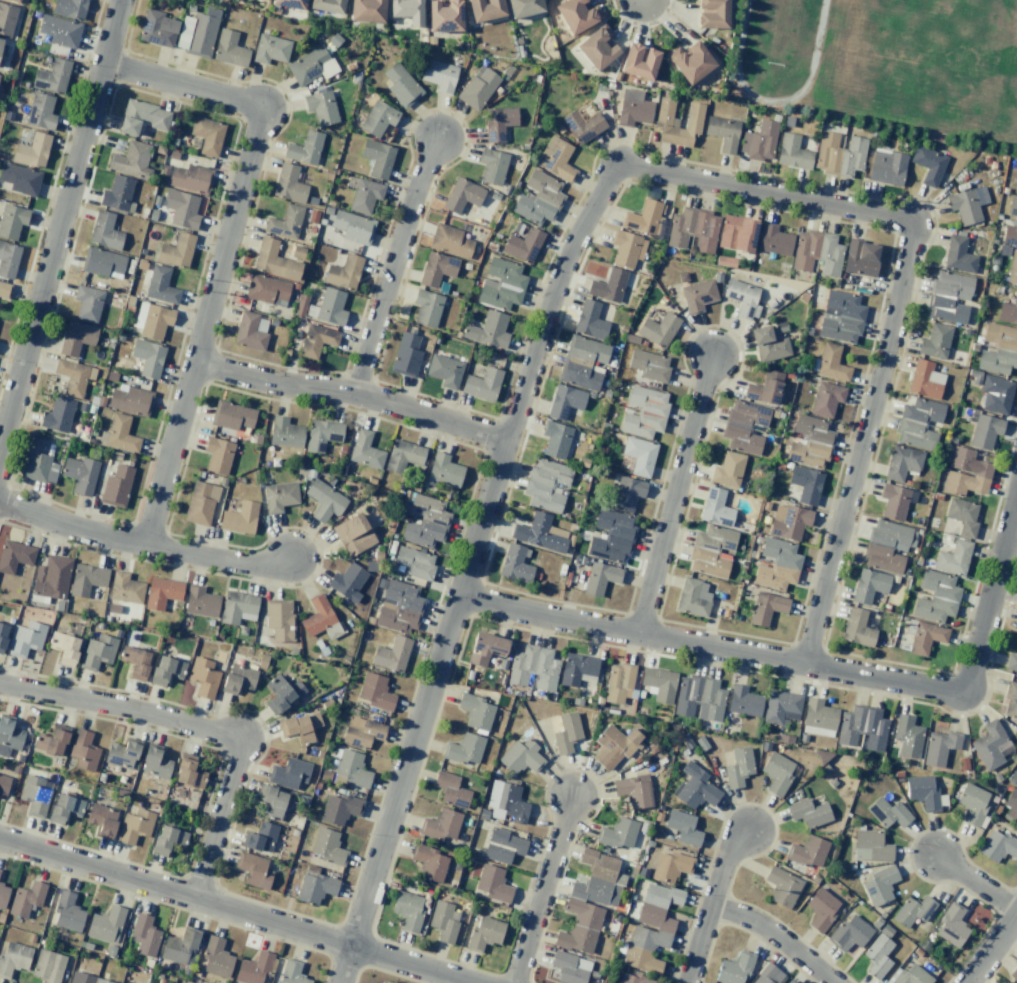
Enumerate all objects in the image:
building: (16, 0)
building: (289, 3)
building: (327, 5)
building: (523, 7)
building: (69, 8)
building: (485, 9)
building: (366, 10)
building: (407, 10)
building: (711, 13)
building: (575, 15)
building: (444, 16)
building: (7, 19)
building: (157, 29)
building: (59, 30)
building: (195, 34)
building: (229, 49)
building: (270, 49)
building: (596, 49)
building: (1, 51)
building: (638, 61)
building: (690, 61)
building: (311, 65)
building: (439, 75)
building: (52, 76)
building: (401, 85)
building: (477, 87)
building: (321, 107)
building: (633, 108)
building: (40, 111)
building: (142, 117)
building: (378, 118)
building: (498, 122)
building: (665, 122)
building: (582, 125)
building: (722, 133)
building: (207, 135)
building: (759, 141)
building: (305, 148)
building: (31, 151)
building: (792, 152)
building: (838, 154)
building: (377, 158)
building: (555, 159)
building: (131, 160)
building: (928, 164)
building: (492, 166)
building: (886, 167)
building: (190, 178)
building: (20, 179)
building: (288, 183)
building: (1016, 191)
building: (117, 193)
building: (461, 195)
building: (364, 196)
building: (538, 198)
building: (967, 204)
building: (1012, 207)
building: (181, 209)
building: (643, 217)
building: (12, 221)
building: (284, 222)
road: (59, 223)
building: (692, 229)
building: (104, 231)
building: (736, 233)
building: (1009, 236)
building: (449, 240)
building: (773, 240)
building: (523, 245)
road: (227, 246)
building: (626, 249)
building: (176, 250)
building: (816, 252)
building: (958, 255)
building: (860, 258)
building: (8, 259)
building: (273, 260)
building: (102, 263)
road: (395, 267)
building: (436, 268)
building: (1012, 268)
building: (343, 272)
building: (501, 284)
building: (160, 285)
building: (607, 286)
building: (267, 289)
building: (4, 290)
building: (697, 295)
building: (949, 297)
building: (742, 298)
building: (87, 303)
road: (898, 304)
building: (331, 307)
building: (426, 308)
building: (1008, 311)
building: (840, 316)
building: (153, 320)
building: (589, 320)
building: (658, 329)
building: (488, 330)
building: (250, 331)
building: (76, 338)
building: (317, 340)
building: (935, 341)
building: (768, 344)
building: (586, 349)
building: (998, 349)
building: (406, 355)
building: (147, 357)
building: (831, 363)
building: (649, 365)
building: (444, 370)
building: (579, 374)
building: (73, 376)
building: (924, 380)
building: (482, 384)
building: (764, 388)
road: (353, 394)
building: (995, 394)
building: (826, 398)
building: (130, 399)
building: (564, 401)
building: (644, 412)
building: (57, 415)
building: (231, 415)
building: (918, 423)
building: (744, 426)
building: (984, 431)
building: (285, 432)
building: (120, 433)
building: (321, 434)
building: (555, 439)
building: (810, 441)
building: (365, 450)
building: (217, 455)
building: (403, 455)
building: (639, 455)
building: (39, 461)
building: (902, 462)
building: (727, 470)
building: (444, 471)
building: (965, 473)
building: (80, 474)
building: (546, 484)
building: (805, 484)
building: (116, 486)
building: (627, 493)
building: (279, 496)
road: (676, 496)
building: (324, 500)
building: (893, 501)
building: (200, 503)
building: (714, 507)
building: (962, 516)
building: (239, 518)
building: (425, 521)
building: (788, 521)
building: (539, 533)
building: (353, 534)
building: (611, 536)
road: (143, 545)
building: (887, 546)
building: (711, 551)
building: (14, 556)
building: (953, 558)
building: (414, 562)
building: (515, 564)
building: (776, 564)
road: (466, 570)
building: (51, 577)
building: (600, 578)
building: (86, 579)
building: (347, 581)
building: (868, 585)
building: (125, 588)
road: (988, 590)
building: (161, 592)
building: (692, 597)
building: (935, 597)
building: (200, 601)
building: (237, 607)
building: (399, 607)
building: (766, 608)
building: (319, 618)
building: (279, 619)
building: (1016, 623)
building: (857, 628)
building: (2, 635)
building: (925, 637)
building: (25, 639)
road: (708, 647)
building: (64, 648)
building: (485, 648)
building: (97, 652)
building: (391, 654)
building: (135, 662)
building: (1011, 662)
building: (533, 667)
building: (166, 670)
building: (203, 677)
building: (238, 678)
building: (618, 683)
building: (659, 683)
building: (375, 692)
building: (281, 693)
building: (699, 698)
building: (1010, 700)
building: (743, 701)
building: (781, 706)
building: (475, 711)
building: (818, 718)
building: (300, 727)
building: (862, 727)
road: (197, 728)
building: (362, 732)
building: (566, 733)
building: (9, 737)
building: (907, 737)
building: (51, 741)
building: (990, 745)
building: (614, 746)
building: (939, 747)
building: (463, 749)
building: (83, 750)
building: (121, 754)
building: (520, 757)
building: (155, 764)
building: (738, 767)
building: (351, 768)
building: (188, 772)
building: (289, 773)
building: (776, 773)
building: (3, 784)
building: (695, 787)
building: (450, 789)
building: (633, 790)
building: (924, 792)
building: (34, 795)
building: (271, 801)
building: (506, 802)
building: (1011, 806)
building: (64, 808)
building: (339, 808)
building: (808, 812)
building: (888, 813)
building: (102, 819)
building: (440, 824)
building: (134, 826)
building: (682, 827)
building: (617, 833)
building: (260, 837)
building: (168, 840)
building: (503, 846)
building: (870, 846)
building: (997, 846)
building: (328, 847)
building: (807, 851)
building: (429, 863)
building: (670, 866)
building: (253, 870)
building: (598, 879)
building: (493, 883)
building: (879, 885)
road: (978, 885)
building: (315, 887)
building: (782, 887)
road: (543, 891)
building: (3, 895)
building: (26, 898)
road: (711, 904)
road: (231, 908)
building: (821, 909)
building: (407, 910)
building: (913, 910)
building: (67, 912)
building: (443, 921)
building: (105, 924)
building: (579, 926)
building: (951, 926)
building: (650, 928)
building: (484, 933)
building: (849, 933)
building: (144, 935)
road: (777, 936)
building: (180, 946)
road: (991, 949)
building: (877, 956)
building: (13, 958)
building: (216, 958)
building: (48, 966)
building: (570, 967)
building: (253, 968)
building: (733, 969)
building: (291, 972)
building: (1014, 973)
building: (768, 975)
building: (909, 975)
building: (85, 978)
building: (633, 979)
building: (789, 981)

